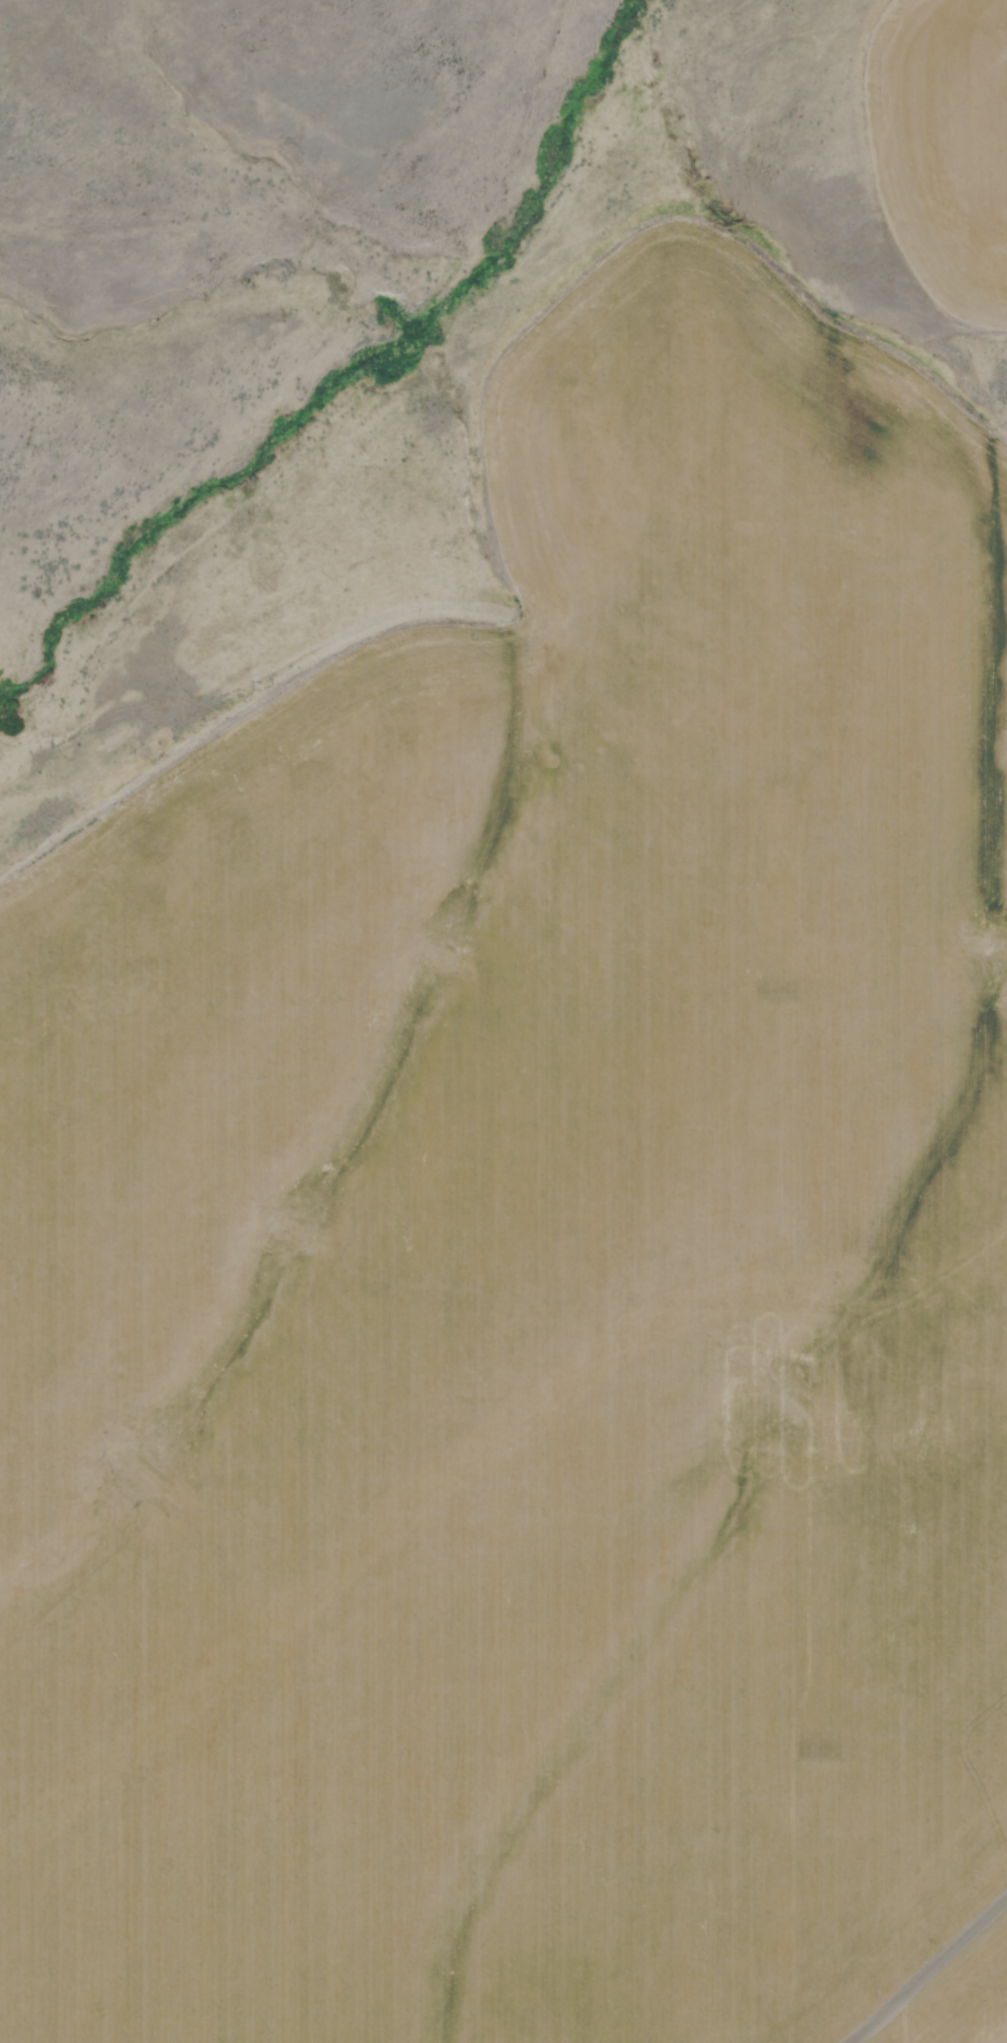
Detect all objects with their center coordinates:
road: (919, 1961)

